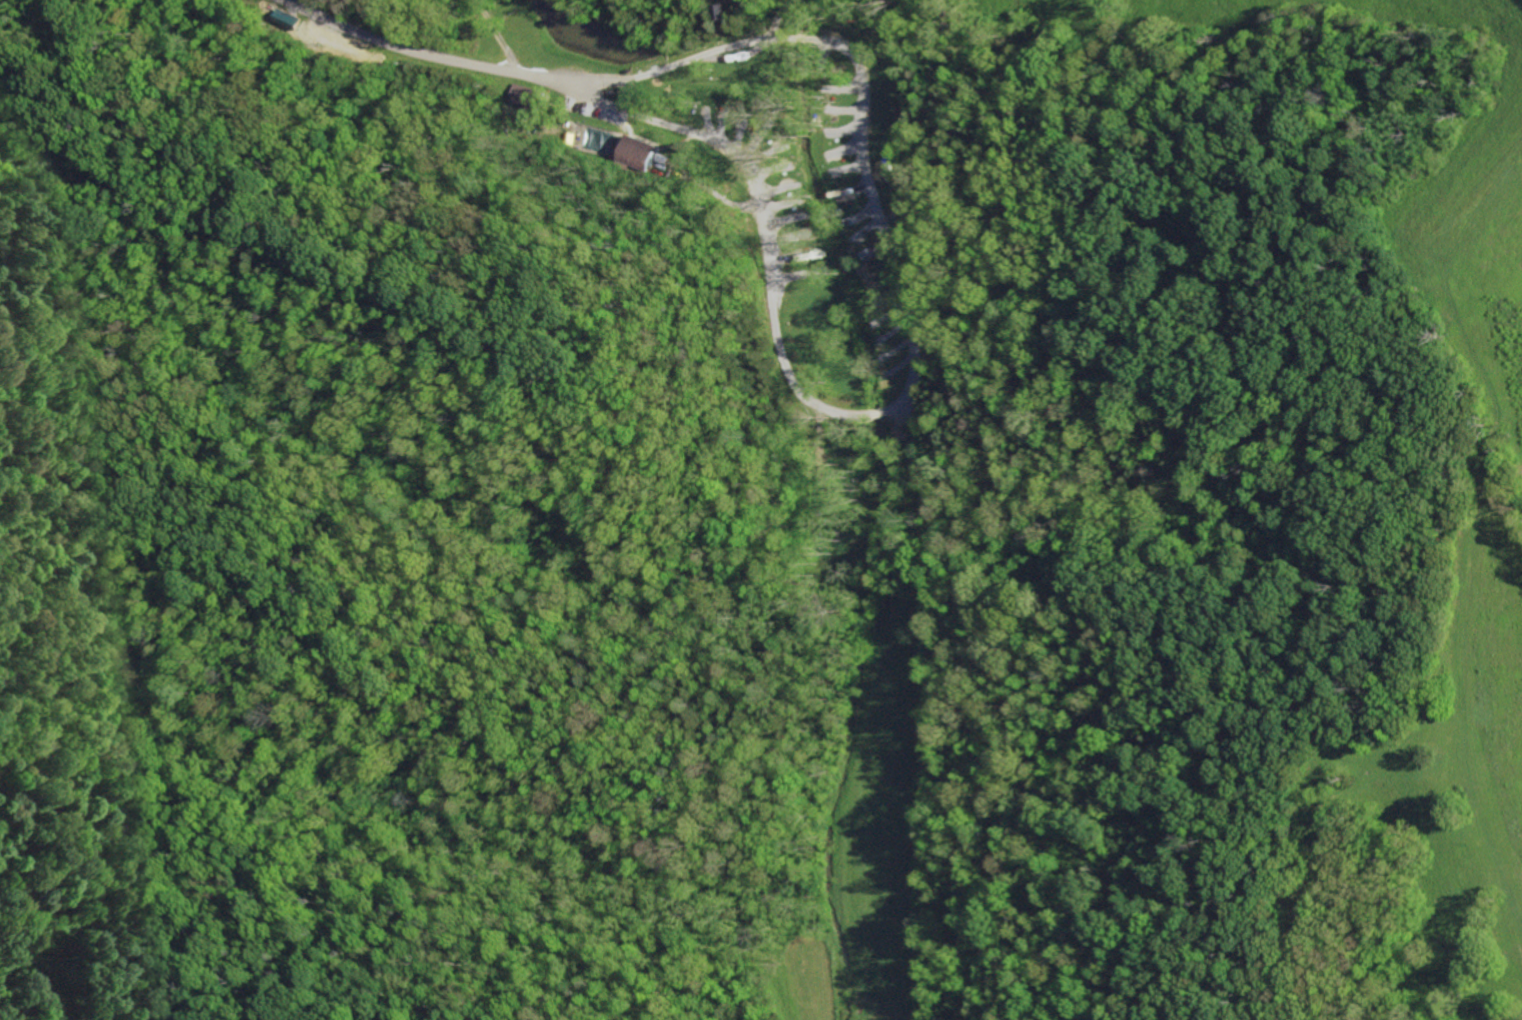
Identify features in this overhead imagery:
road: (500, 35)
road: (667, 44)
road: (410, 49)
road: (670, 63)
road: (581, 78)
building: (523, 93)
building: (535, 98)
road: (633, 114)
building: (642, 152)
road: (895, 293)

